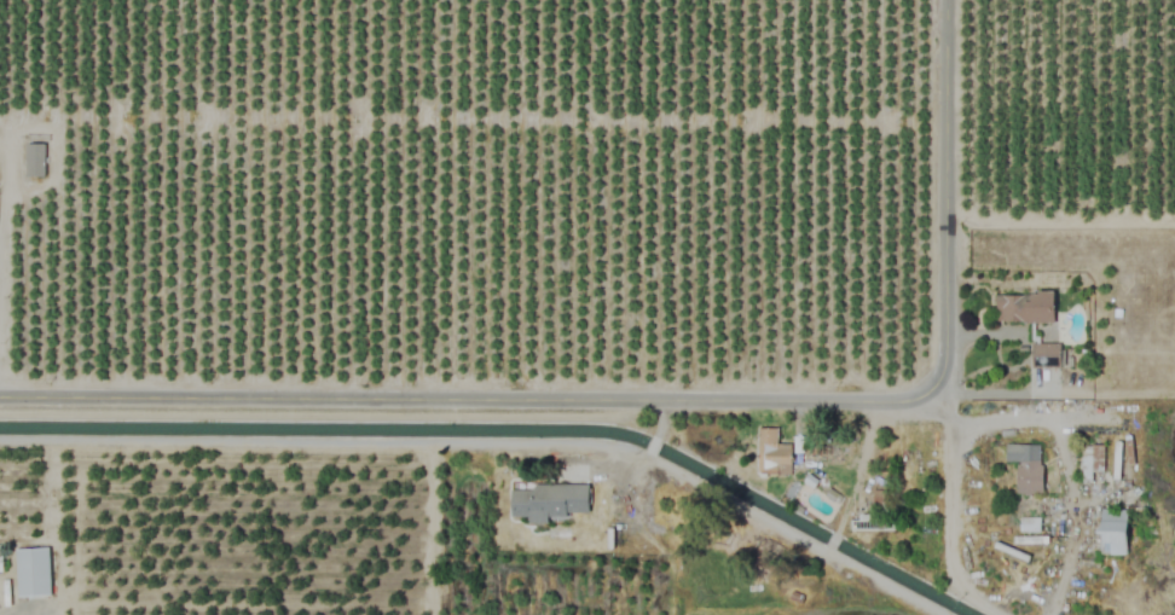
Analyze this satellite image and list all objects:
building: (34, 159)
road: (1, 198)
road: (943, 214)
building: (1024, 308)
building: (1046, 355)
road: (1059, 388)
road: (452, 399)
road: (1003, 413)
building: (772, 453)
building: (1025, 462)
building: (1088, 463)
road: (954, 482)
building: (548, 500)
building: (876, 500)
building: (873, 523)
building: (1113, 533)
building: (0, 561)
building: (33, 572)

